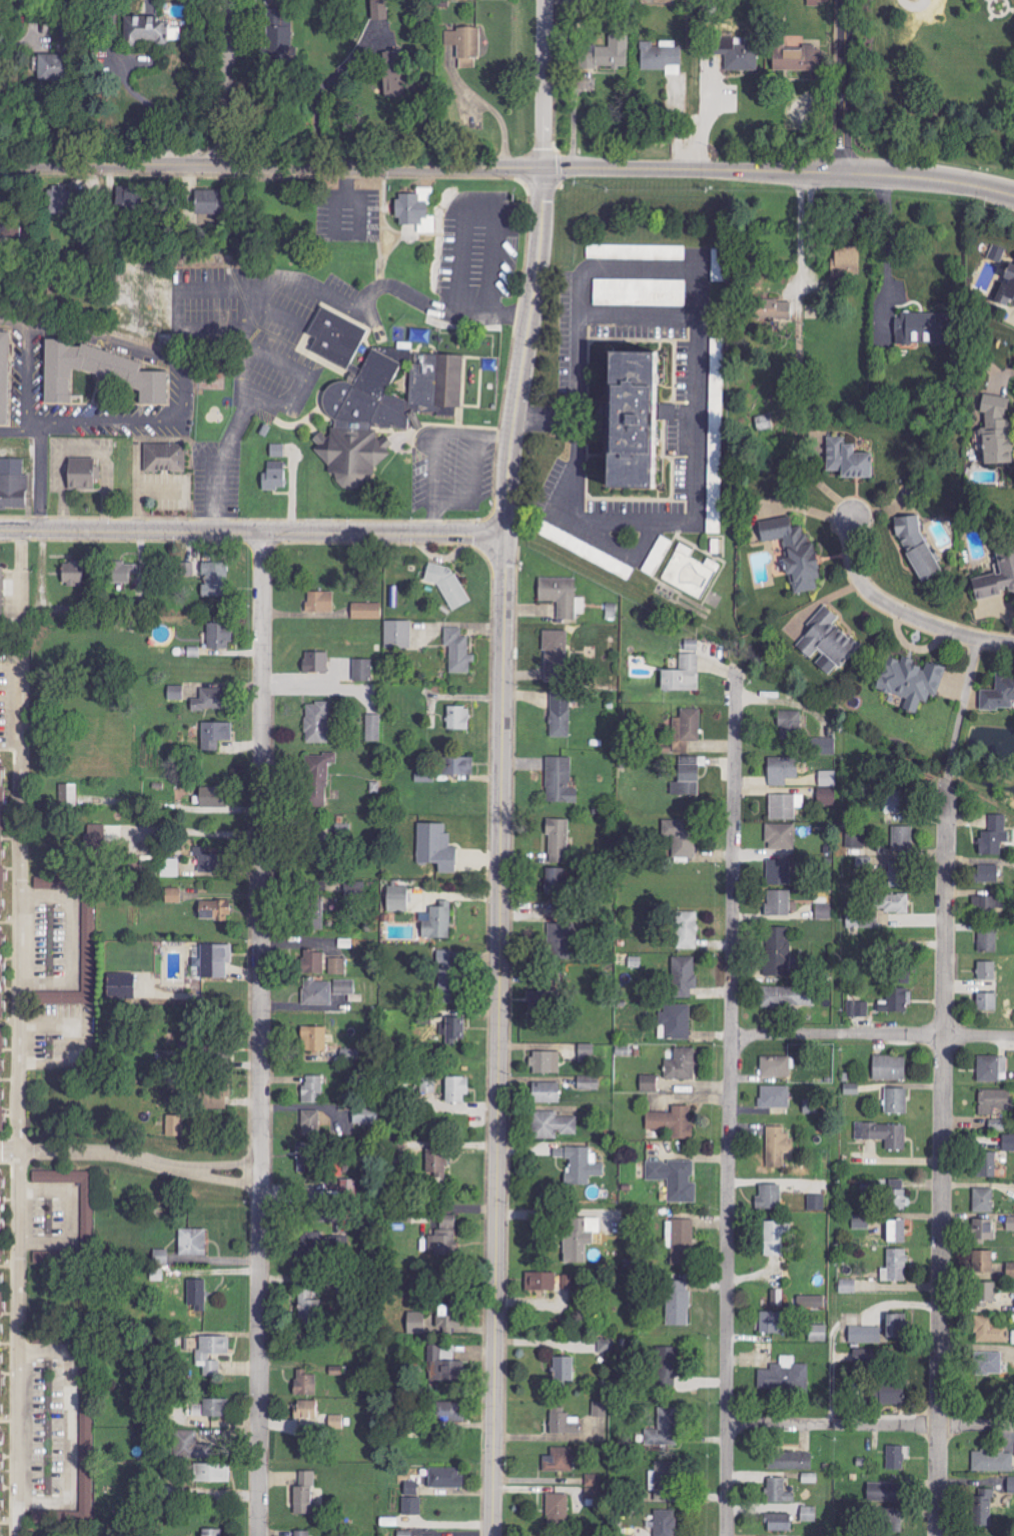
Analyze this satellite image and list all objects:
building: (816, 2)
building: (378, 9)
building: (146, 30)
building: (465, 45)
building: (608, 53)
building: (736, 54)
building: (659, 55)
building: (801, 59)
building: (46, 67)
building: (393, 77)
road: (227, 82)
road: (542, 83)
road: (845, 86)
road: (122, 88)
road: (702, 117)
road: (271, 165)
road: (692, 170)
road: (928, 183)
building: (58, 199)
building: (129, 199)
building: (210, 201)
building: (416, 210)
road: (476, 211)
road: (807, 223)
road: (797, 230)
road: (884, 247)
building: (637, 252)
building: (996, 253)
building: (846, 259)
building: (721, 264)
road: (277, 275)
building: (1008, 285)
building: (665, 291)
building: (773, 309)
building: (920, 328)
building: (336, 337)
road: (524, 353)
building: (103, 379)
building: (8, 380)
road: (191, 394)
building: (382, 411)
building: (629, 420)
building: (764, 422)
building: (995, 431)
road: (474, 435)
building: (716, 435)
road: (694, 447)
building: (277, 450)
building: (165, 458)
building: (847, 458)
road: (433, 468)
road: (473, 468)
building: (82, 473)
building: (274, 476)
building: (13, 484)
road: (451, 500)
road: (432, 518)
road: (252, 532)
building: (918, 549)
building: (584, 550)
building: (796, 557)
building: (1005, 559)
road: (22, 569)
building: (187, 569)
building: (73, 572)
building: (123, 572)
building: (691, 572)
building: (215, 578)
building: (1, 589)
building: (559, 596)
building: (319, 602)
building: (366, 611)
road: (901, 612)
building: (398, 635)
building: (219, 636)
building: (827, 642)
building: (457, 649)
road: (10, 651)
building: (555, 655)
building: (315, 662)
building: (363, 670)
building: (682, 675)
building: (910, 681)
building: (176, 692)
building: (999, 694)
building: (209, 700)
building: (458, 718)
building: (560, 719)
building: (317, 722)
building: (789, 724)
building: (373, 728)
building: (685, 730)
building: (215, 735)
building: (823, 746)
building: (458, 766)
building: (782, 770)
building: (687, 776)
building: (318, 778)
building: (828, 778)
building: (560, 781)
building: (68, 796)
building: (212, 797)
building: (893, 801)
building: (782, 807)
building: (103, 835)
building: (994, 835)
building: (780, 836)
building: (680, 837)
building: (902, 839)
building: (558, 841)
building: (4, 844)
building: (436, 847)
building: (207, 859)
building: (864, 863)
building: (170, 867)
building: (778, 872)
building: (987, 873)
building: (898, 874)
building: (46, 883)
building: (557, 883)
building: (173, 895)
building: (397, 899)
building: (780, 903)
building: (895, 903)
building: (988, 907)
building: (214, 910)
building: (823, 911)
building: (313, 914)
building: (438, 922)
building: (686, 930)
building: (988, 939)
building: (88, 948)
building: (777, 952)
building: (444, 956)
building: (212, 961)
building: (312, 962)
building: (337, 966)
building: (986, 971)
building: (683, 976)
building: (900, 979)
building: (4, 981)
building: (120, 987)
building: (345, 987)
building: (445, 988)
building: (316, 992)
building: (787, 997)
building: (896, 1001)
building: (987, 1002)
building: (858, 1009)
building: (676, 1021)
building: (453, 1030)
road: (260, 1033)
road: (872, 1034)
road: (499, 1036)
building: (314, 1039)
building: (587, 1053)
building: (546, 1062)
building: (681, 1065)
building: (775, 1067)
building: (889, 1068)
building: (992, 1069)
building: (588, 1083)
building: (648, 1083)
building: (5, 1088)
building: (313, 1089)
building: (429, 1089)
building: (456, 1090)
building: (545, 1093)
road: (20, 1094)
building: (774, 1097)
building: (896, 1101)
building: (994, 1101)
road: (730, 1102)
building: (365, 1116)
building: (672, 1122)
building: (315, 1123)
building: (996, 1124)
building: (176, 1125)
building: (552, 1125)
building: (884, 1135)
building: (1008, 1143)
building: (777, 1146)
road: (10, 1147)
building: (431, 1159)
road: (941, 1159)
road: (140, 1161)
building: (986, 1165)
building: (582, 1166)
road: (10, 1173)
building: (675, 1179)
building: (69, 1182)
building: (896, 1195)
building: (329, 1196)
building: (770, 1197)
building: (983, 1201)
building: (816, 1202)
building: (4, 1223)
building: (1010, 1223)
building: (983, 1231)
building: (896, 1232)
building: (776, 1238)
building: (444, 1239)
building: (579, 1240)
building: (192, 1242)
building: (680, 1242)
building: (161, 1257)
building: (44, 1258)
building: (983, 1262)
building: (895, 1266)
building: (1010, 1271)
building: (540, 1282)
building: (568, 1282)
building: (847, 1286)
building: (985, 1293)
building: (197, 1295)
building: (777, 1298)
building: (810, 1301)
building: (677, 1304)
building: (310, 1308)
building: (446, 1318)
building: (415, 1323)
building: (771, 1323)
building: (896, 1326)
building: (989, 1329)
building: (818, 1333)
building: (865, 1335)
building: (608, 1348)
building: (764, 1348)
building: (3, 1350)
building: (212, 1354)
building: (445, 1363)
building: (988, 1364)
building: (666, 1365)
building: (563, 1370)
building: (784, 1375)
building: (306, 1383)
building: (890, 1392)
building: (211, 1408)
building: (599, 1409)
building: (316, 1416)
building: (562, 1422)
road: (870, 1425)
building: (664, 1428)
building: (192, 1446)
building: (897, 1456)
building: (559, 1459)
building: (790, 1460)
building: (993, 1460)
building: (212, 1472)
building: (445, 1477)
building: (3, 1479)
building: (594, 1480)
building: (664, 1480)
building: (411, 1487)
building: (778, 1490)
building: (882, 1492)
building: (305, 1493)
building: (412, 1505)
building: (983, 1507)
building: (557, 1508)
building: (809, 1514)
building: (889, 1519)
building: (778, 1522)
building: (210, 1533)
building: (303, 1533)

